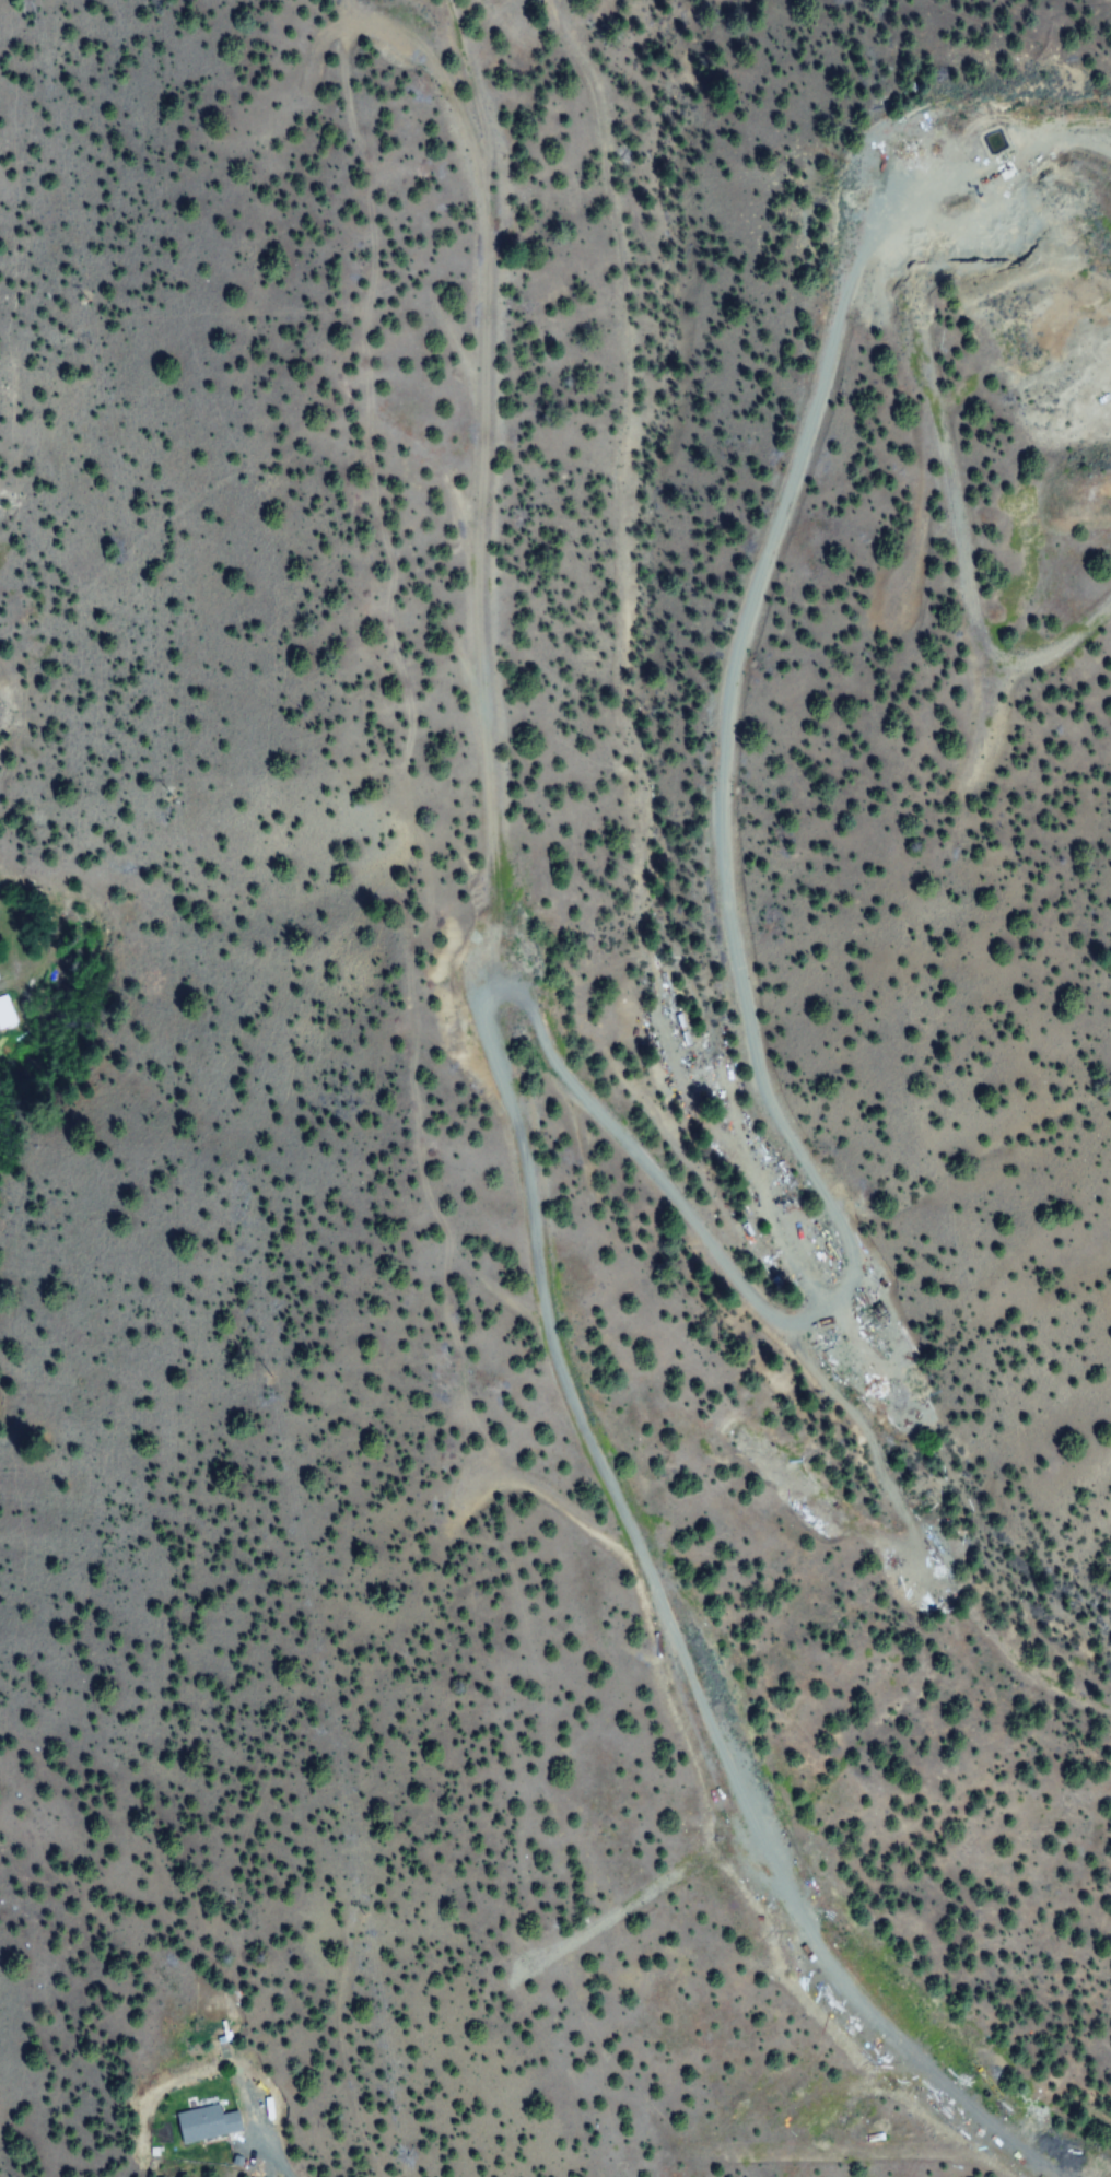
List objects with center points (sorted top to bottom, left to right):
building: (4, 1014)
road: (581, 1099)
building: (199, 2123)
road: (269, 2156)

